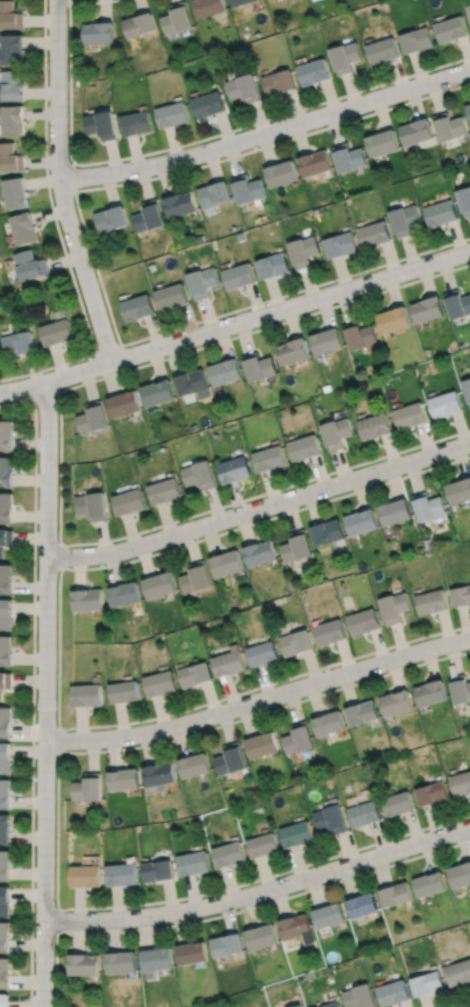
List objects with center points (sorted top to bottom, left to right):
road: (69, 1)
building: (240, 2)
building: (209, 7)
building: (468, 9)
building: (9, 15)
building: (177, 18)
building: (139, 24)
building: (450, 28)
building: (98, 32)
building: (416, 39)
building: (12, 49)
building: (382, 50)
building: (346, 57)
street lamp: (444, 67)
street lamp: (47, 70)
building: (315, 71)
building: (280, 82)
building: (13, 85)
building: (245, 88)
street lamp: (343, 98)
building: (210, 104)
building: (468, 109)
building: (173, 115)
building: (13, 120)
building: (137, 123)
building: (102, 125)
building: (448, 126)
street lamp: (237, 131)
building: (415, 131)
road: (266, 132)
building: (383, 142)
road: (174, 146)
building: (10, 158)
building: (349, 158)
street lamp: (125, 160)
street lamp: (70, 162)
building: (316, 163)
building: (283, 174)
road: (72, 175)
road: (60, 184)
building: (248, 189)
building: (15, 193)
building: (215, 195)
building: (464, 200)
building: (181, 204)
building: (440, 213)
building: (149, 217)
building: (111, 219)
building: (405, 219)
road: (57, 226)
building: (24, 229)
building: (375, 234)
building: (341, 245)
road: (90, 246)
building: (305, 251)
building: (30, 266)
building: (273, 267)
street lamp: (434, 272)
building: (240, 277)
street lamp: (97, 278)
street lamp: (336, 282)
building: (203, 283)
building: (172, 297)
building: (457, 303)
building: (138, 308)
building: (427, 308)
road: (255, 316)
building: (394, 320)
building: (57, 333)
street lamp: (232, 335)
building: (361, 336)
building: (327, 342)
building: (19, 343)
street lamp: (127, 346)
road: (106, 349)
building: (293, 350)
building: (261, 365)
building: (226, 369)
building: (194, 381)
building: (467, 386)
road: (20, 387)
building: (159, 390)
road: (45, 394)
street lamp: (23, 397)
building: (125, 402)
building: (445, 402)
building: (409, 413)
building: (94, 416)
building: (374, 424)
building: (338, 431)
building: (7, 433)
street lamp: (437, 441)
building: (306, 446)
building: (271, 457)
road: (60, 465)
street lamp: (57, 466)
building: (236, 467)
building: (7, 470)
building: (201, 473)
building: (165, 489)
building: (459, 489)
street lamp: (335, 494)
building: (130, 500)
building: (93, 504)
building: (428, 504)
building: (7, 506)
road: (260, 506)
street lamp: (226, 507)
building: (395, 510)
building: (361, 520)
building: (329, 531)
building: (5, 539)
building: (299, 545)
building: (262, 552)
street lamp: (137, 555)
road: (60, 556)
building: (228, 562)
street lamp: (57, 574)
building: (197, 577)
building: (7, 578)
building: (161, 584)
building: (125, 593)
building: (461, 594)
building: (89, 598)
building: (432, 600)
building: (394, 606)
building: (6, 613)
building: (362, 620)
building: (328, 631)
building: (296, 641)
road: (59, 647)
building: (6, 650)
building: (265, 652)
street lamp: (440, 655)
building: (230, 661)
street lamp: (37, 668)
street lamp: (324, 669)
building: (197, 673)
building: (5, 681)
building: (161, 683)
road: (33, 685)
building: (460, 688)
building: (125, 691)
building: (430, 692)
road: (46, 694)
building: (86, 694)
road: (259, 699)
building: (395, 702)
building: (361, 712)
street lamp: (236, 718)
building: (5, 721)
building: (327, 722)
street lamp: (112, 727)
building: (297, 738)
road: (59, 740)
building: (262, 744)
building: (5, 757)
building: (232, 759)
building: (195, 765)
building: (159, 774)
street lamp: (34, 776)
building: (123, 779)
building: (460, 782)
building: (88, 788)
building: (430, 793)
building: (5, 794)
building: (397, 803)
building: (363, 813)
building: (329, 819)
building: (5, 829)
road: (57, 829)
street lamp: (424, 831)
building: (295, 834)
building: (262, 845)
building: (229, 854)
building: (194, 863)
building: (5, 866)
building: (158, 871)
building: (122, 875)
building: (459, 875)
building: (85, 877)
street lamp: (333, 879)
building: (429, 884)
road: (260, 891)
street lamp: (220, 892)
building: (395, 895)
street lamp: (54, 901)
building: (5, 902)
building: (362, 905)
road: (230, 912)
building: (328, 916)
road: (57, 920)
building: (296, 928)
street lamp: (102, 929)
building: (260, 937)
building: (5, 938)
building: (227, 945)
building: (192, 953)
building: (157, 960)
building: (121, 963)
building: (84, 965)
building: (4, 973)
building: (457, 973)
building: (426, 984)
building: (392, 993)
building: (358, 997)
building: (4, 1001)
road: (461, 1004)
building: (332, 1005)
building: (298, 1006)

